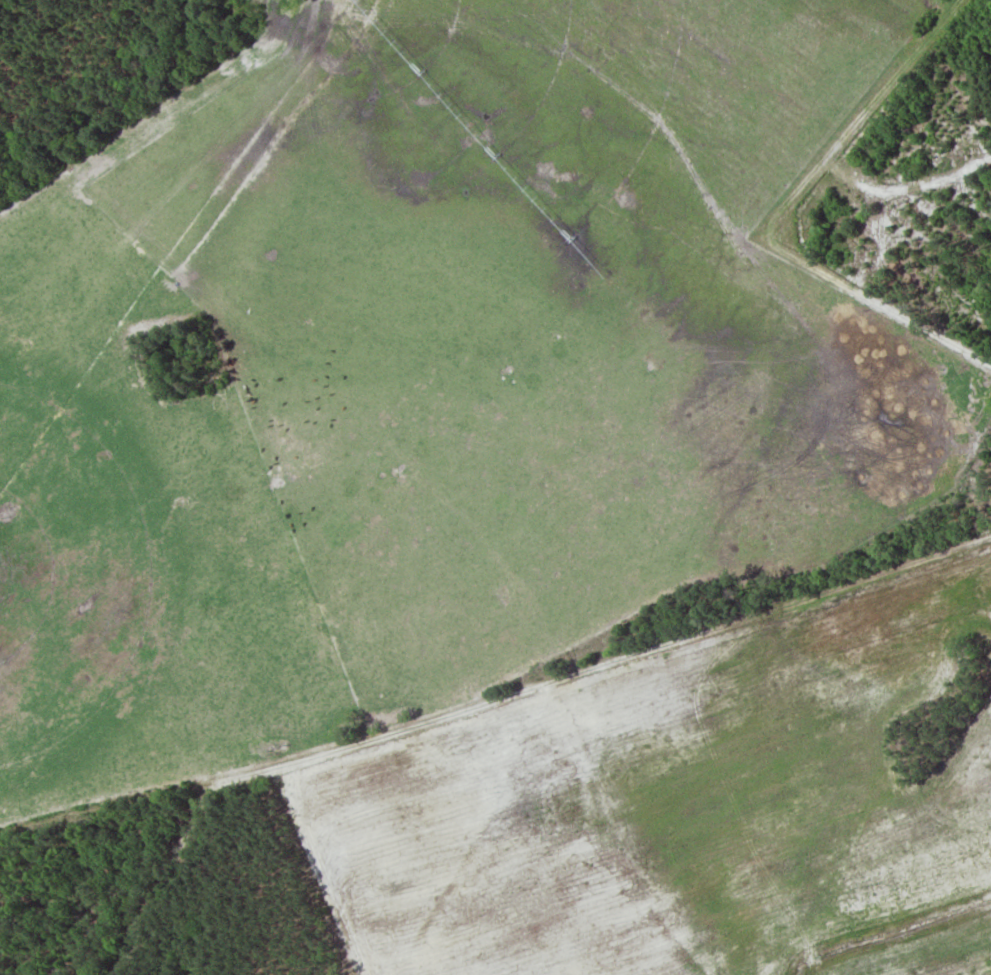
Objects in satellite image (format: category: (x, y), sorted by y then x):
road: (869, 102)

